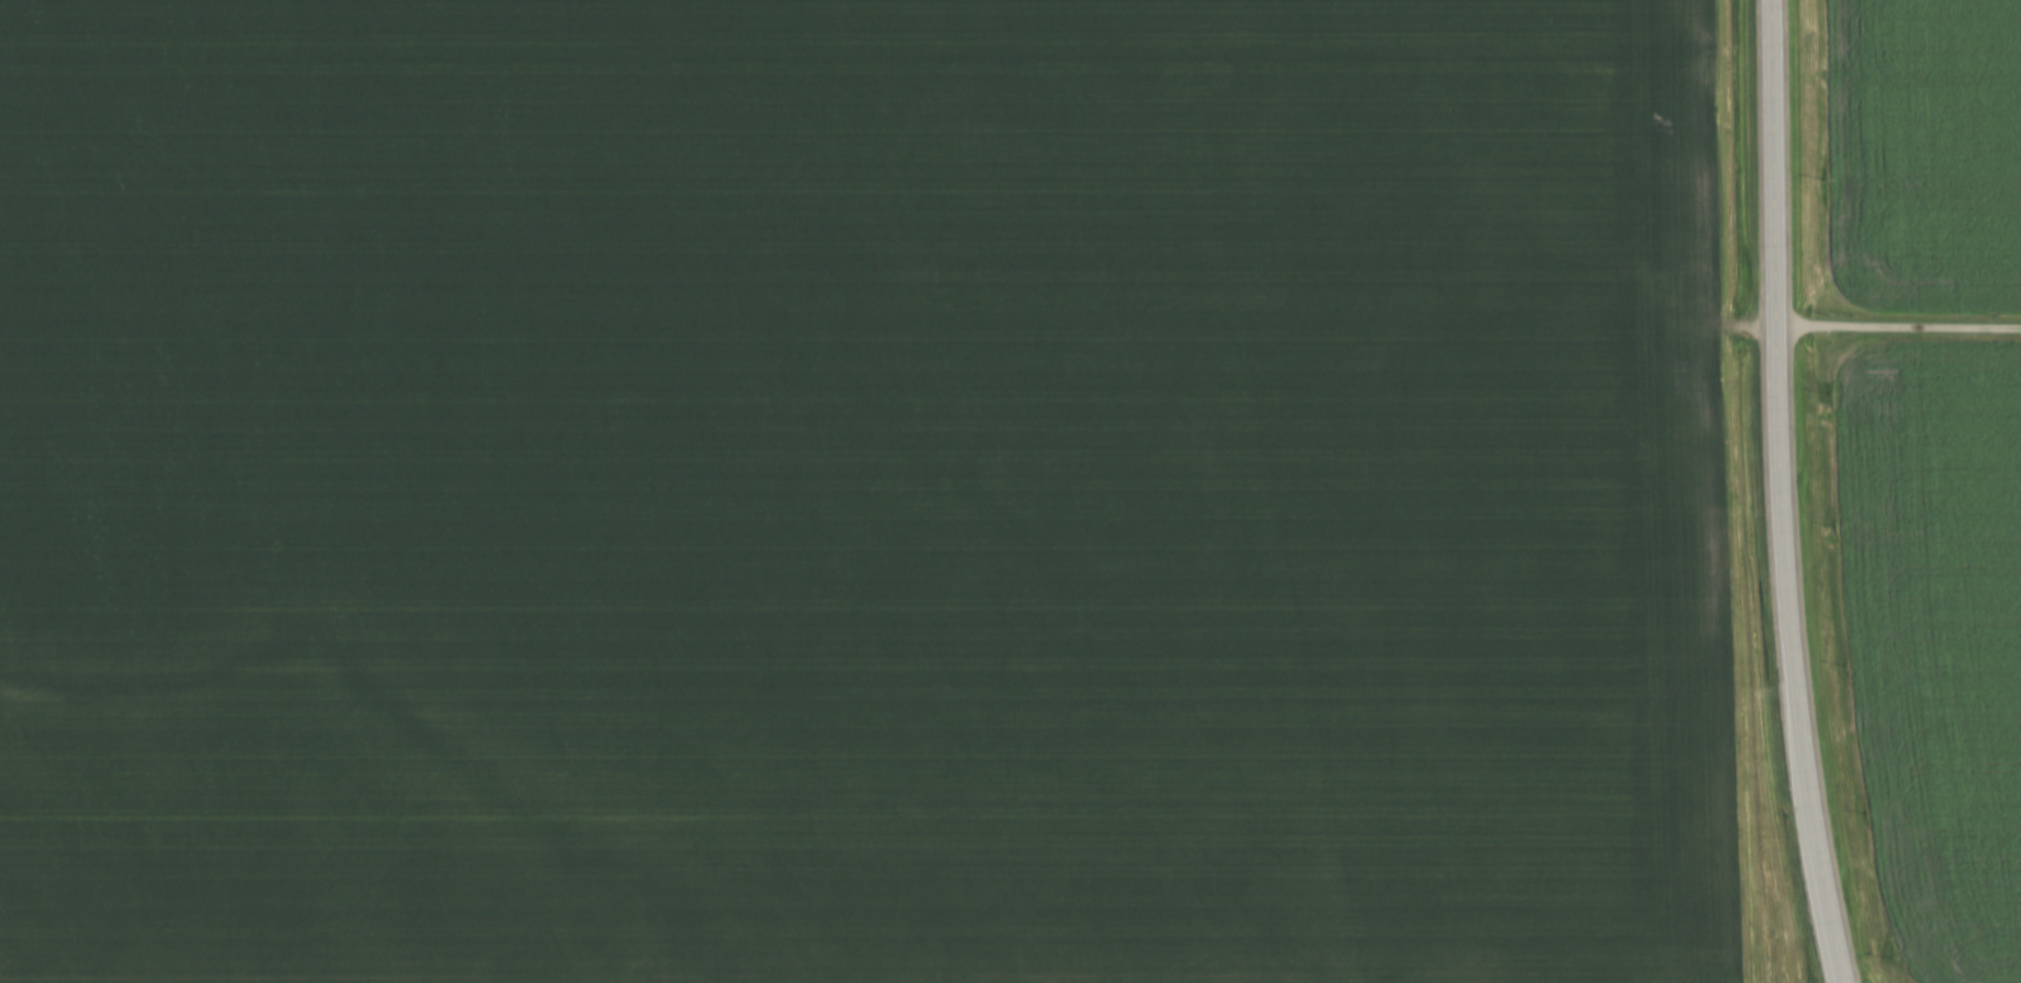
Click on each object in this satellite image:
road: (1772, 162)
road: (1897, 327)
road: (1792, 656)

